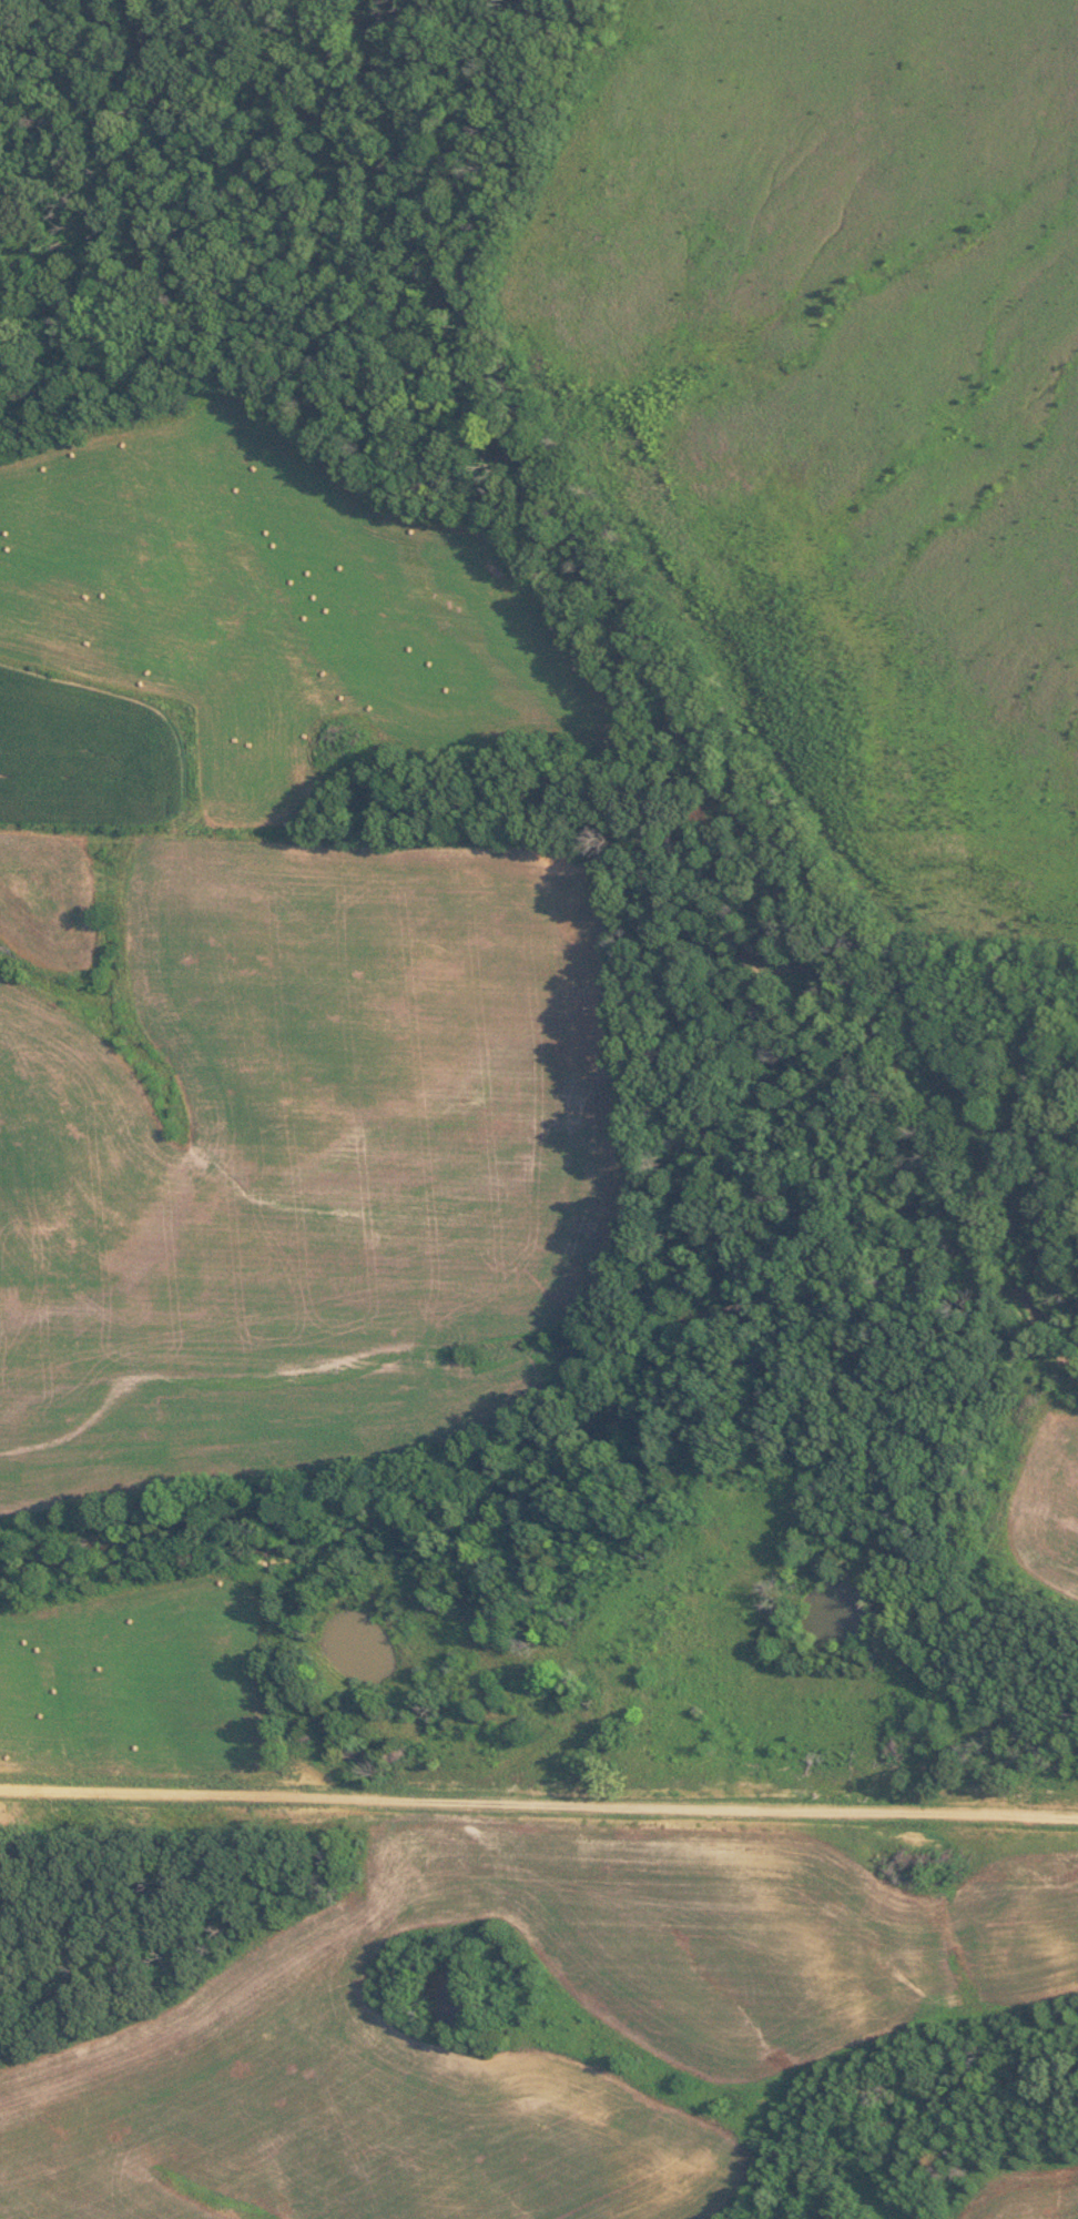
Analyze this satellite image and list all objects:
road: (538, 1807)

